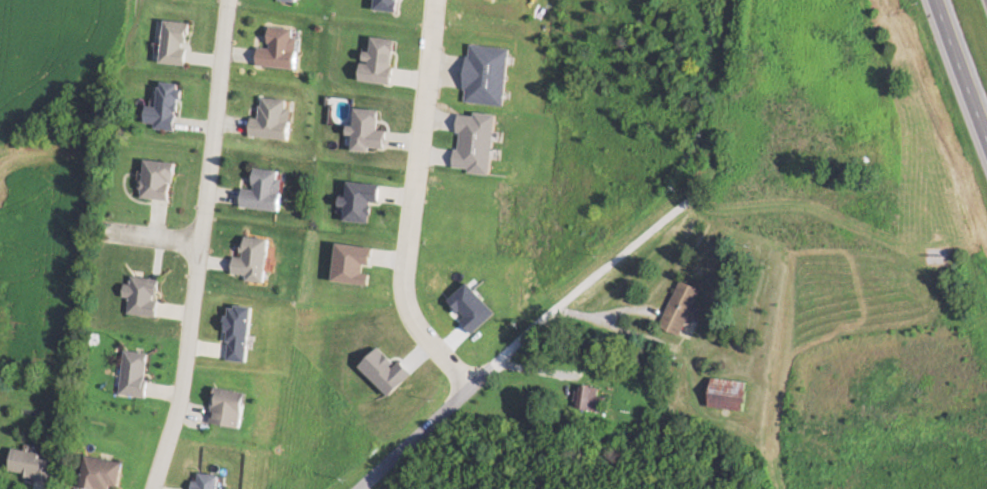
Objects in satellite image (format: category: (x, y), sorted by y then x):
building: (291, 0)
building: (177, 43)
building: (282, 49)
road: (959, 72)
building: (165, 108)
building: (274, 120)
building: (158, 180)
building: (265, 191)
road: (413, 198)
road: (197, 245)
building: (254, 261)
building: (144, 296)
building: (683, 308)
road: (513, 335)
building: (136, 374)
building: (731, 395)
building: (591, 399)
building: (231, 409)
building: (33, 466)
building: (103, 474)

